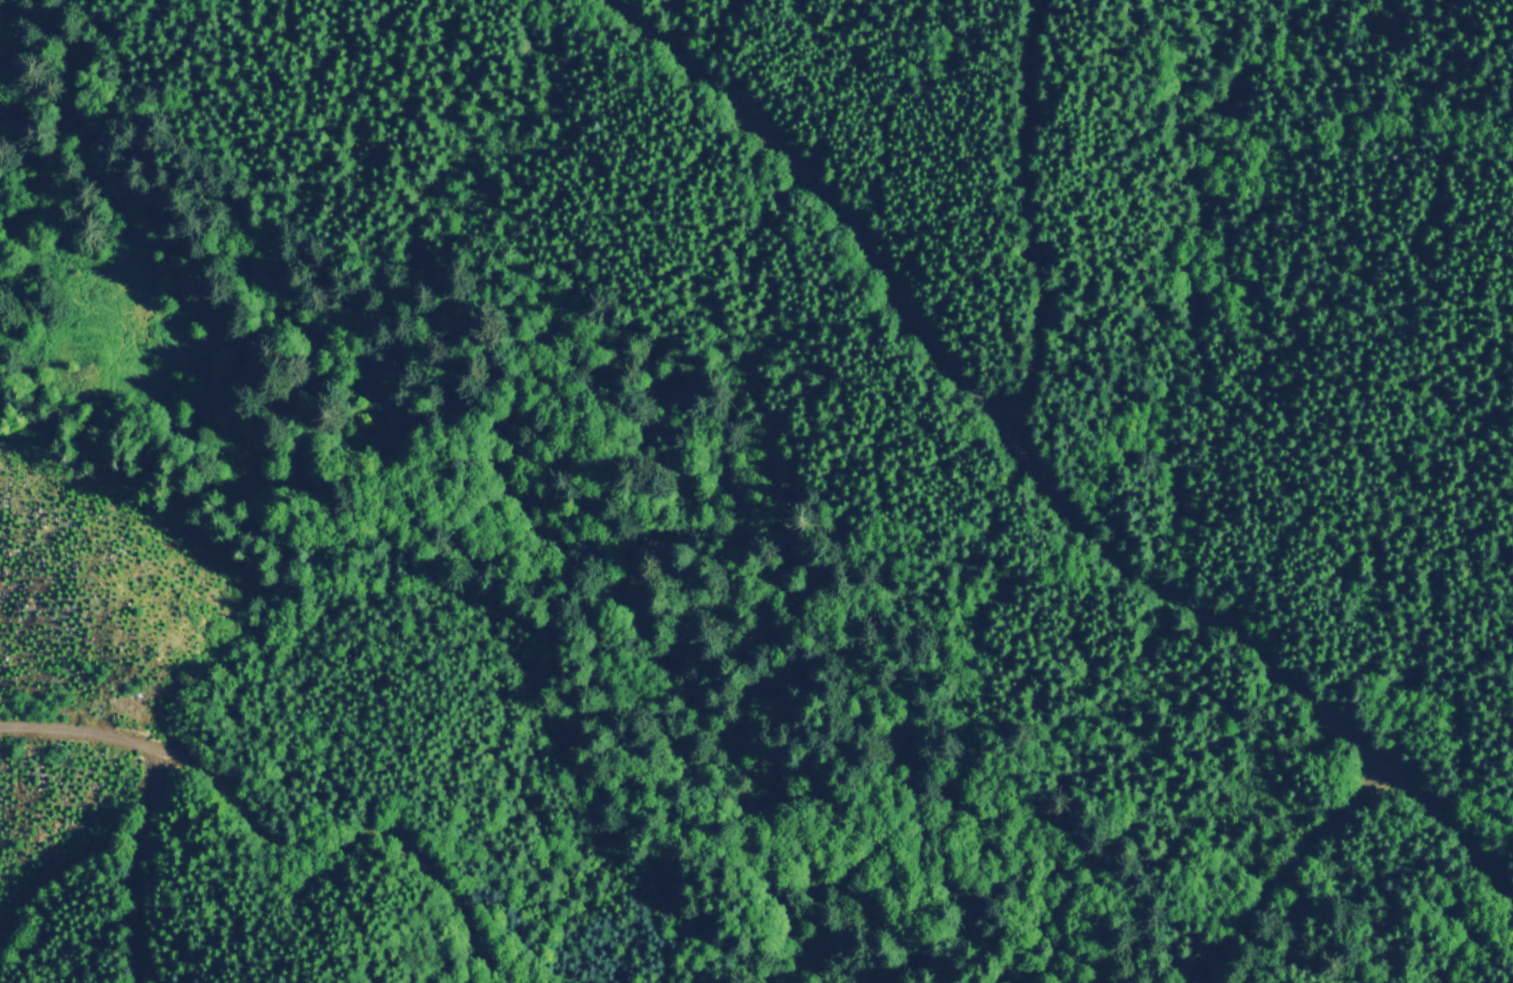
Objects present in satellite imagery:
road: (1063, 460)

